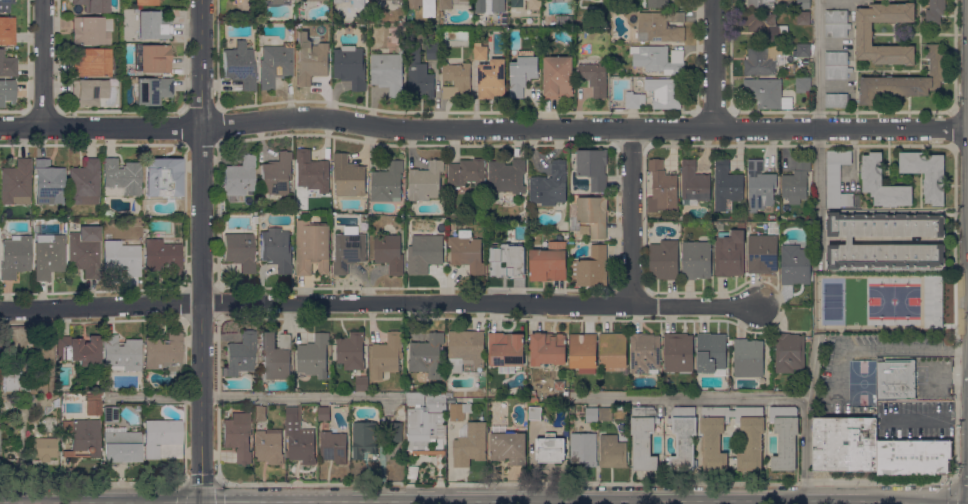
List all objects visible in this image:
building: (316, 0)
building: (390, 0)
building: (465, 0)
building: (339, 1)
building: (146, 2)
building: (401, 2)
building: (515, 2)
building: (360, 3)
building: (414, 3)
building: (657, 3)
building: (677, 3)
building: (760, 3)
building: (803, 3)
building: (446, 4)
building: (535, 4)
building: (582, 4)
building: (5, 5)
building: (93, 5)
building: (490, 5)
building: (222, 11)
building: (935, 11)
building: (803, 18)
building: (529, 20)
building: (562, 20)
building: (579, 22)
building: (836, 23)
building: (128, 24)
building: (764, 25)
building: (152, 26)
building: (659, 26)
building: (92, 30)
building: (7, 31)
building: (864, 34)
building: (432, 50)
building: (803, 50)
building: (480, 51)
building: (152, 59)
building: (311, 59)
building: (658, 59)
building: (760, 60)
building: (91, 62)
road: (43, 63)
road: (713, 63)
building: (836, 64)
building: (274, 65)
building: (7, 66)
building: (239, 66)
building: (350, 66)
building: (388, 72)
building: (522, 72)
building: (594, 75)
building: (419, 76)
building: (557, 77)
building: (491, 78)
building: (456, 80)
building: (906, 80)
building: (803, 85)
building: (6, 91)
building: (151, 91)
building: (89, 92)
building: (664, 92)
building: (763, 92)
building: (632, 100)
building: (836, 100)
road: (483, 129)
road: (819, 131)
building: (593, 167)
building: (312, 171)
building: (466, 172)
building: (926, 173)
building: (276, 175)
building: (162, 176)
building: (348, 176)
building: (507, 176)
building: (120, 178)
building: (239, 178)
building: (836, 179)
building: (426, 181)
building: (387, 182)
building: (796, 182)
building: (871, 182)
building: (16, 183)
building: (48, 183)
building: (84, 183)
building: (693, 183)
building: (550, 185)
building: (726, 185)
building: (760, 186)
building: (661, 187)
building: (108, 213)
building: (590, 217)
road: (631, 217)
building: (719, 226)
building: (849, 240)
building: (312, 247)
road: (201, 249)
building: (276, 249)
building: (348, 249)
building: (84, 251)
building: (240, 251)
building: (466, 251)
building: (425, 252)
building: (390, 253)
building: (730, 253)
building: (762, 253)
building: (14, 256)
building: (48, 256)
building: (162, 256)
building: (120, 259)
building: (663, 259)
building: (507, 260)
building: (696, 260)
building: (795, 264)
building: (547, 265)
building: (591, 268)
building: (931, 301)
road: (378, 302)
road: (902, 346)
building: (548, 348)
building: (506, 349)
building: (351, 350)
building: (78, 351)
building: (465, 351)
building: (613, 351)
building: (583, 352)
building: (645, 352)
building: (678, 352)
building: (789, 352)
building: (426, 353)
building: (711, 353)
building: (121, 354)
building: (164, 354)
building: (240, 354)
building: (276, 355)
building: (387, 355)
building: (313, 357)
building: (748, 357)
building: (93, 377)
road: (947, 377)
building: (895, 378)
building: (362, 383)
building: (15, 384)
building: (559, 385)
building: (39, 386)
road: (252, 396)
road: (720, 397)
building: (29, 398)
building: (413, 398)
building: (532, 398)
building: (436, 401)
building: (92, 407)
building: (457, 411)
building: (260, 413)
building: (324, 413)
building: (535, 413)
building: (605, 413)
building: (110, 414)
building: (592, 414)
road: (925, 419)
building: (48, 424)
building: (519, 427)
building: (425, 429)
building: (395, 431)
building: (566, 432)
building: (83, 435)
building: (160, 435)
building: (714, 436)
building: (750, 436)
building: (785, 436)
building: (238, 437)
building: (299, 437)
building: (643, 437)
building: (364, 438)
building: (683, 438)
building: (121, 444)
building: (470, 444)
building: (845, 444)
building: (269, 446)
building: (334, 446)
building: (508, 446)
road: (805, 447)
building: (550, 448)
building: (44, 449)
building: (583, 449)
building: (613, 450)
building: (913, 456)
road: (200, 480)
road: (759, 481)
road: (92, 483)
road: (297, 483)
road: (953, 484)
road: (100, 498)
road: (228, 498)
road: (272, 498)
road: (619, 498)
traffic signals: (201, 499)
road: (201, 501)
road: (317, 501)

